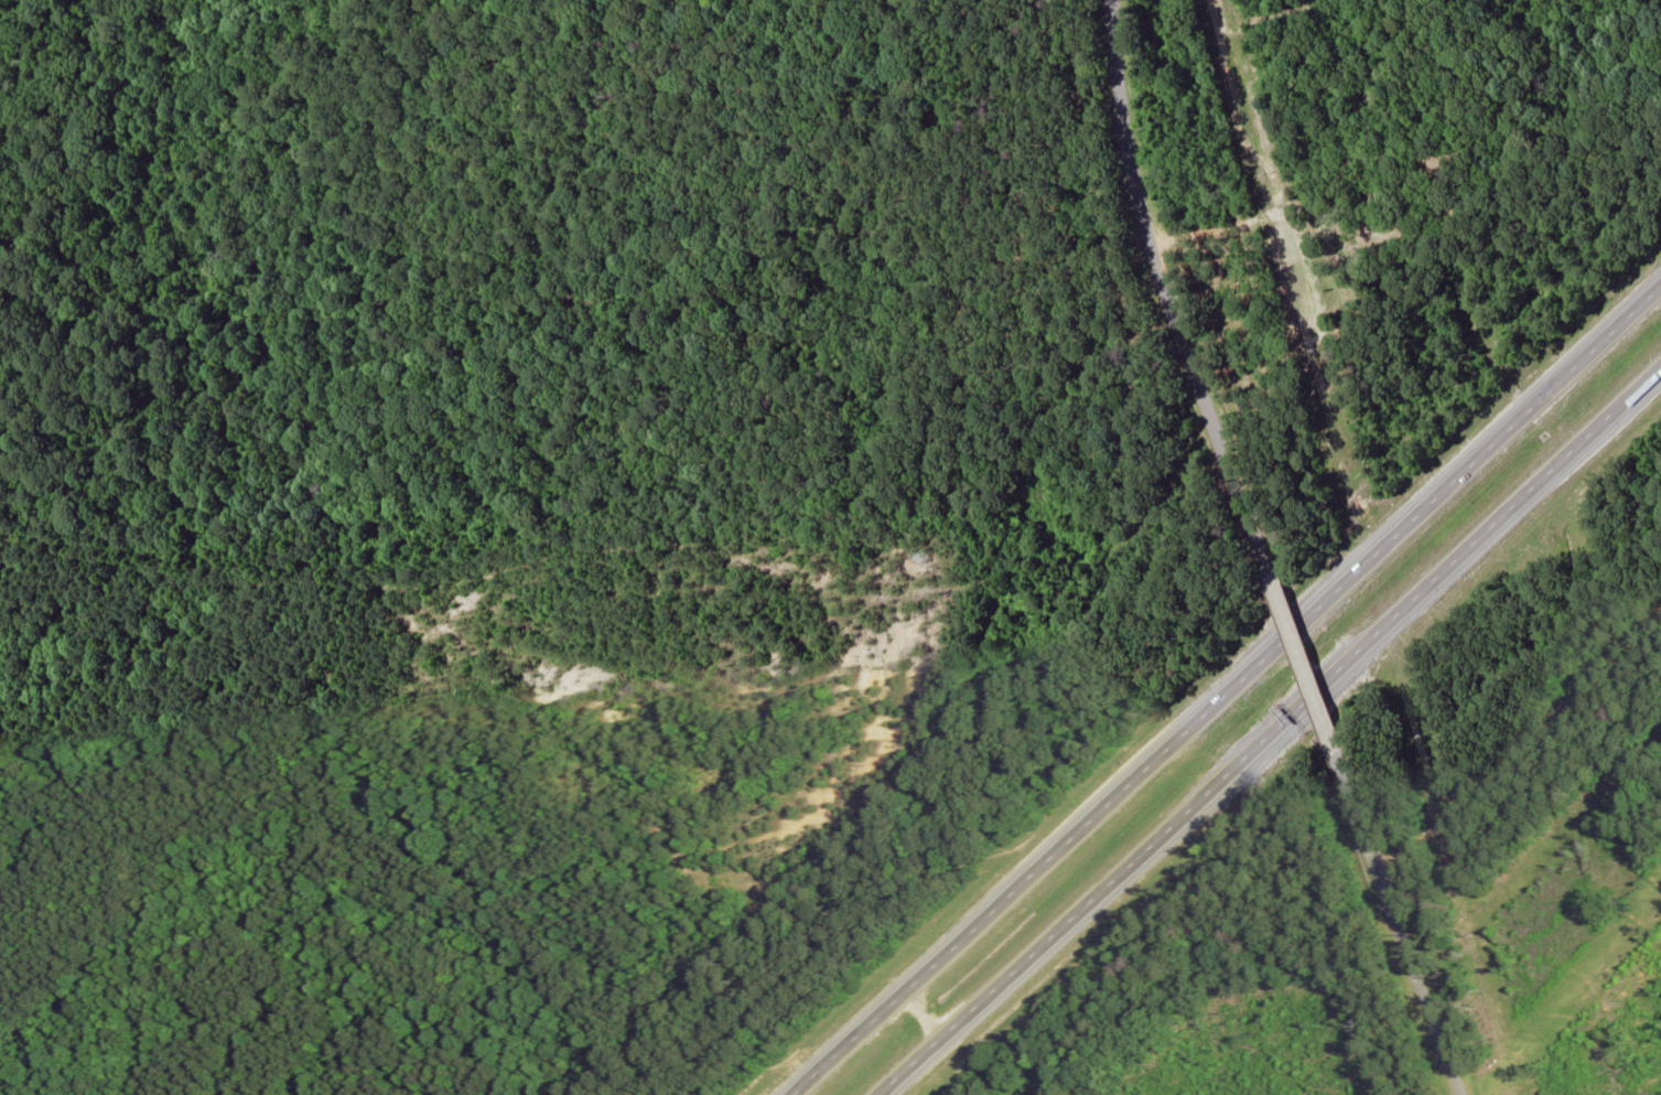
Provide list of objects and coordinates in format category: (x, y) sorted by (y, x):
road: (1172, 289)
road: (1304, 664)
road: (658, 689)
road: (1229, 690)
road: (1272, 731)
road: (1527, 766)
road: (1403, 926)

